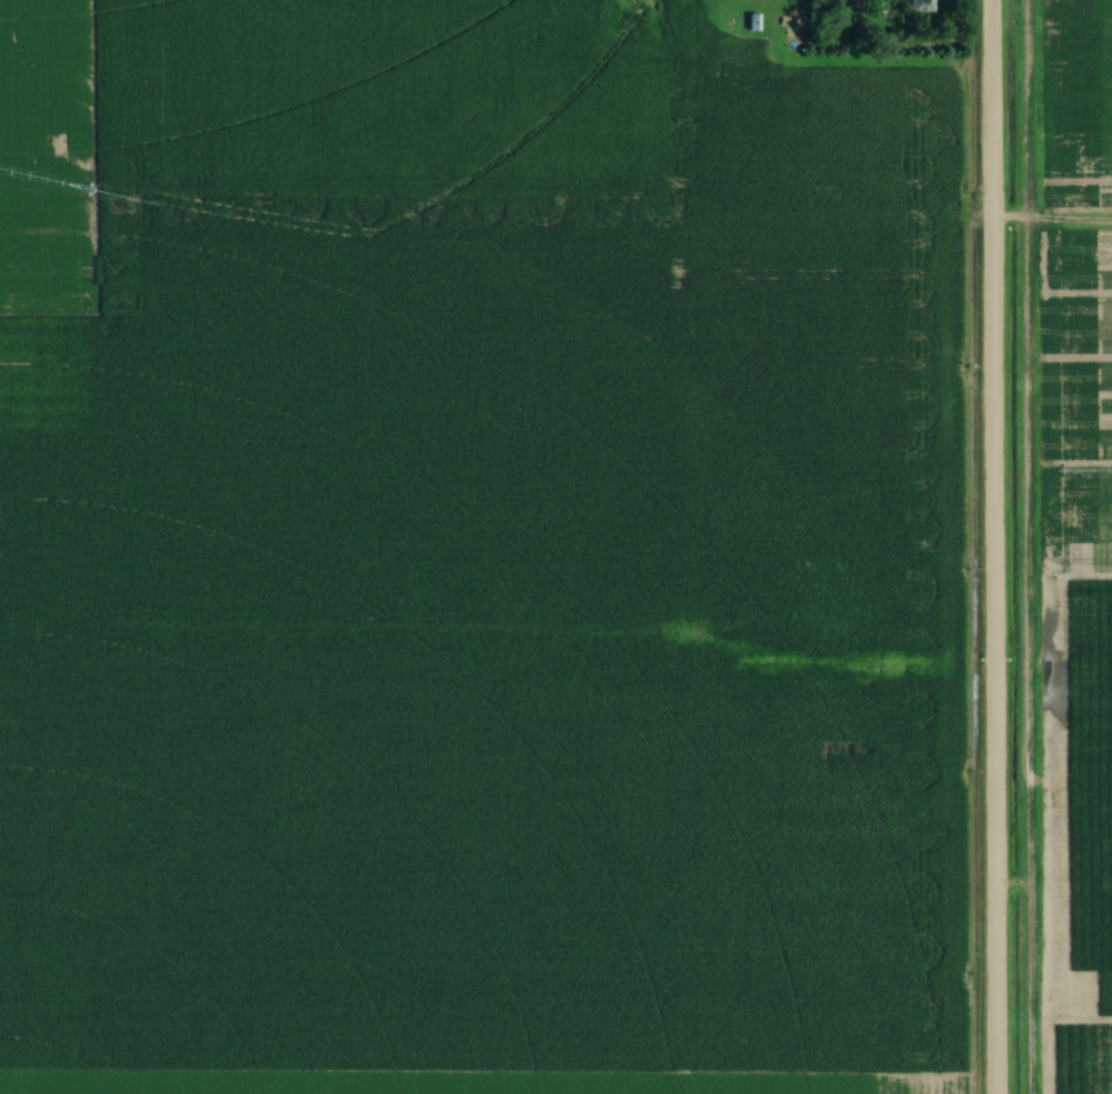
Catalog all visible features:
building: (921, 7)
road: (991, 546)

